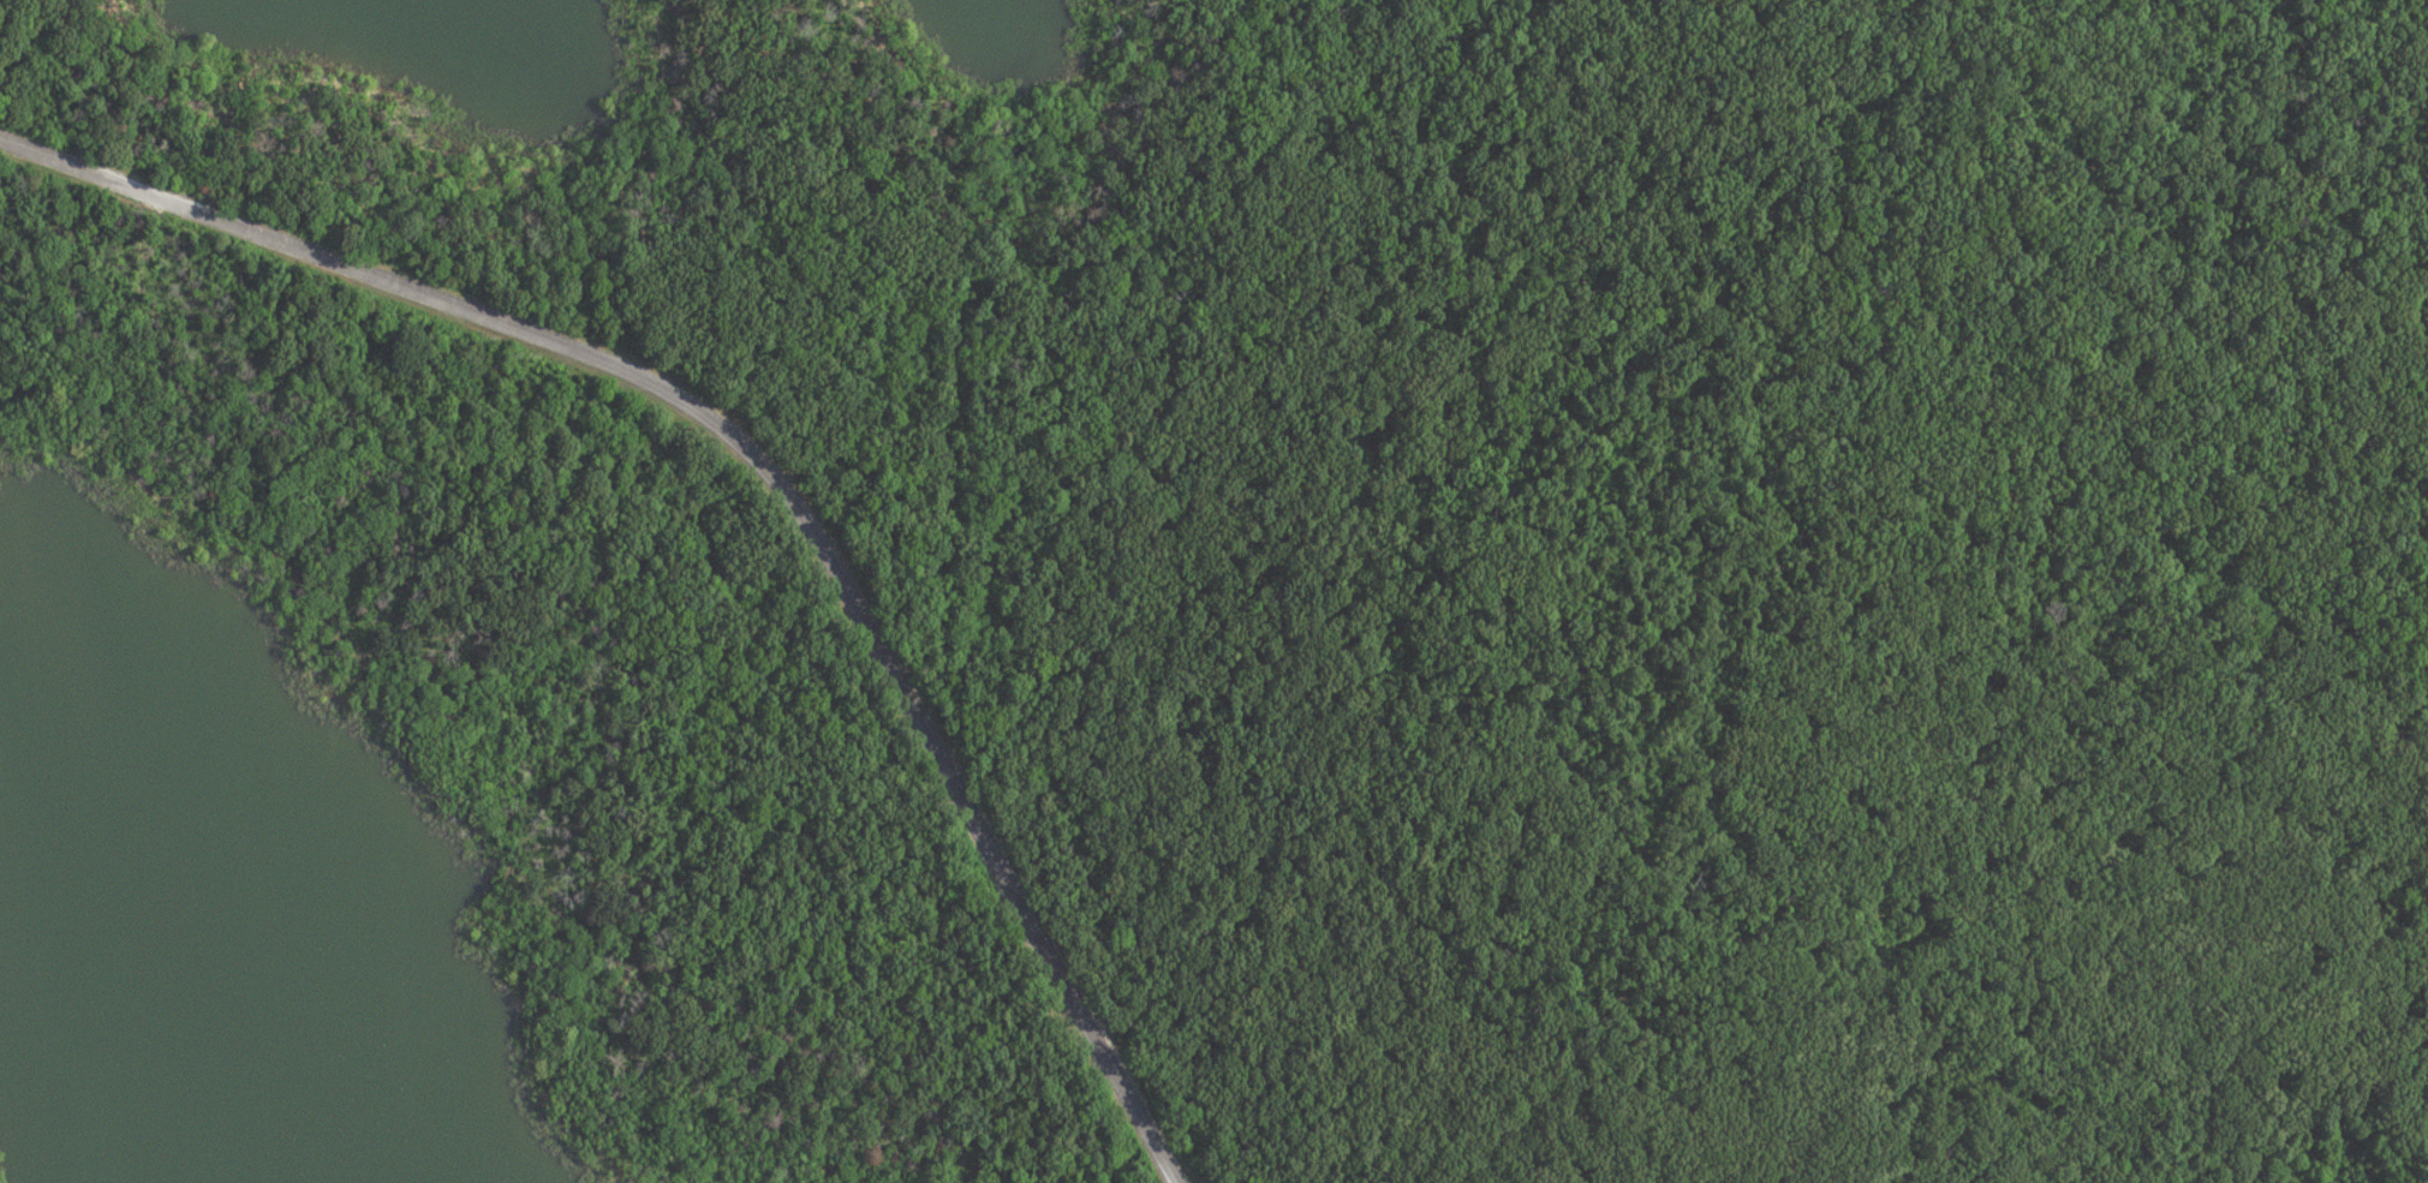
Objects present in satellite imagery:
road: (1952, 10)
road: (959, 353)
road: (759, 462)

